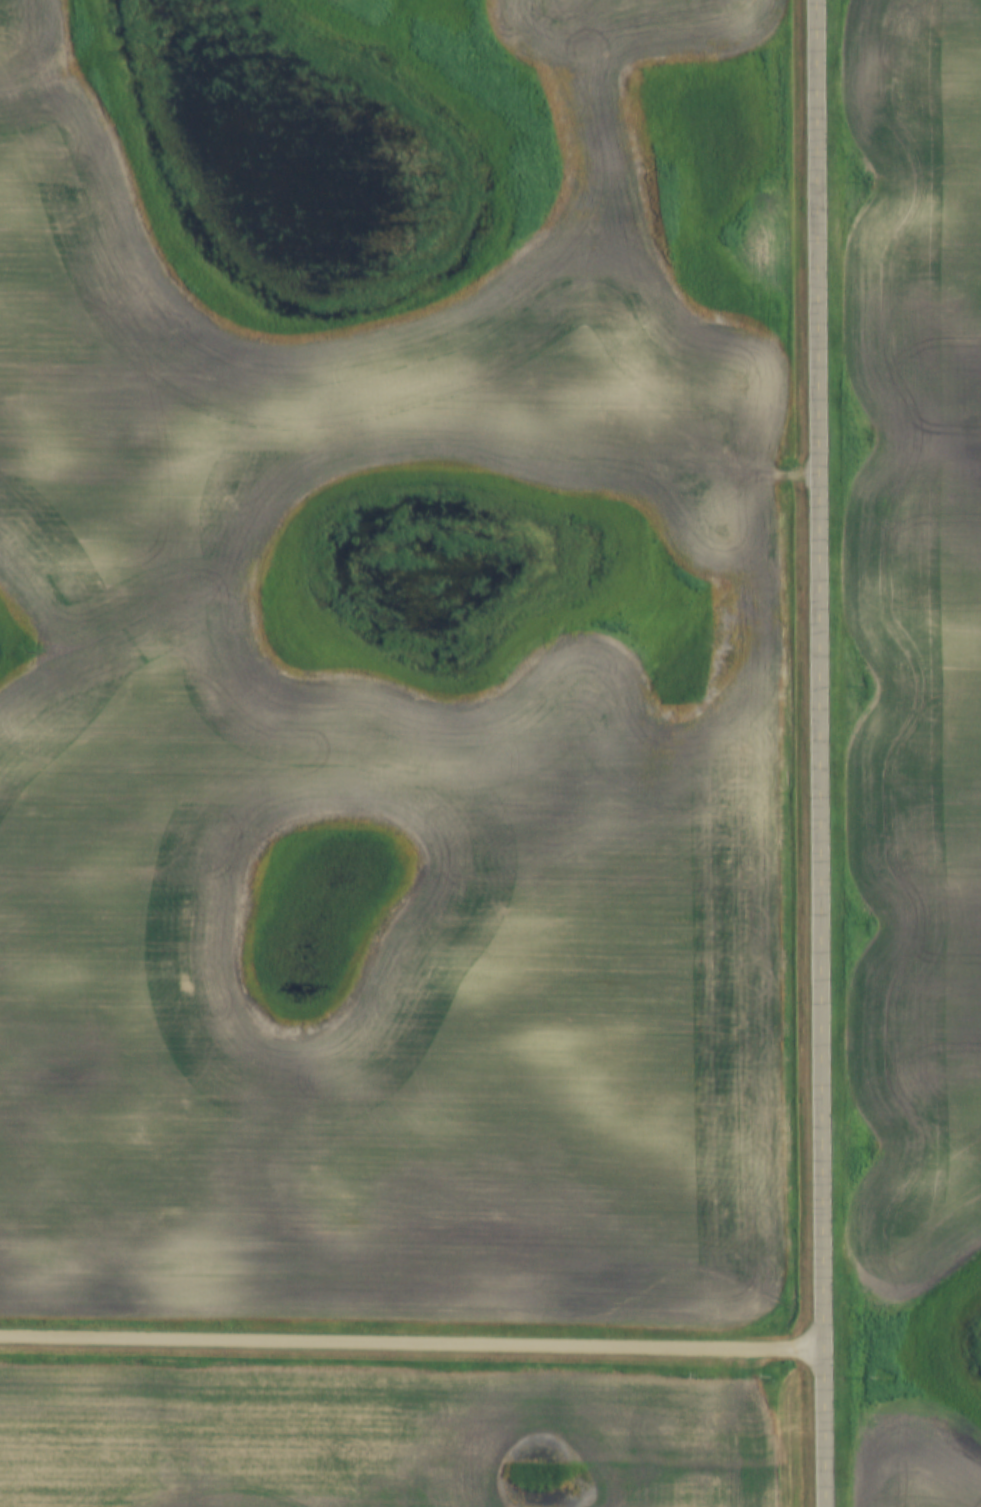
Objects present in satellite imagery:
road: (825, 753)
road: (412, 1346)

